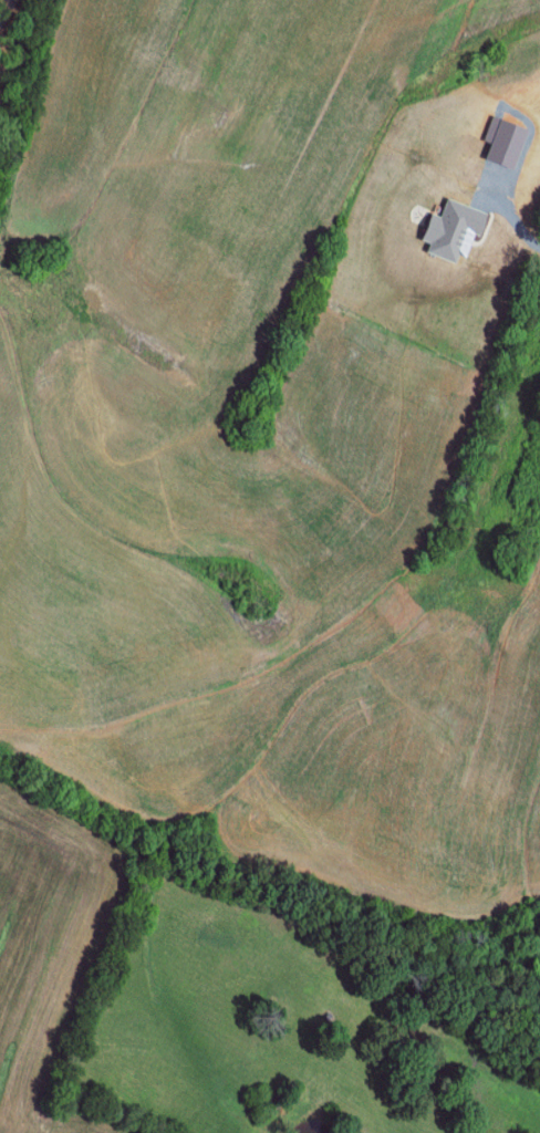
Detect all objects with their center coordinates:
road: (515, 220)

